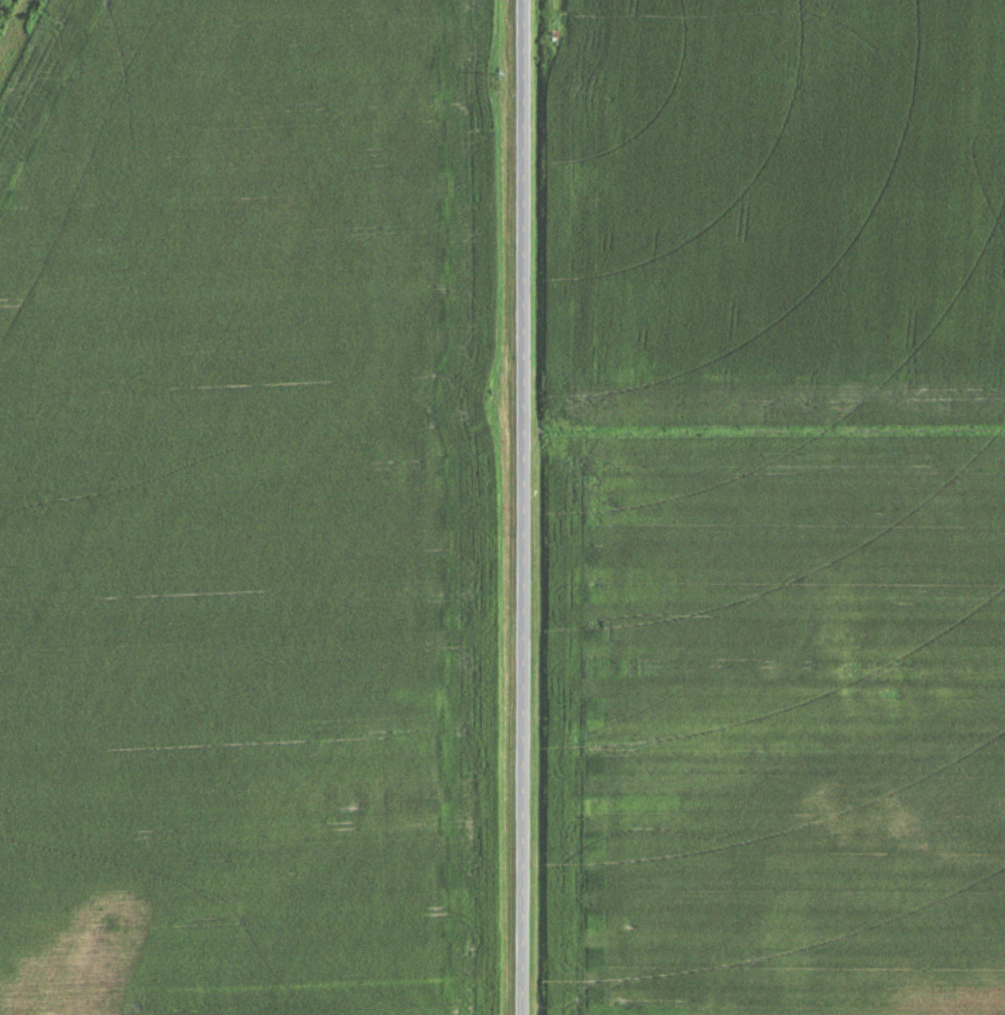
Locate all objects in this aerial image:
road: (528, 507)

